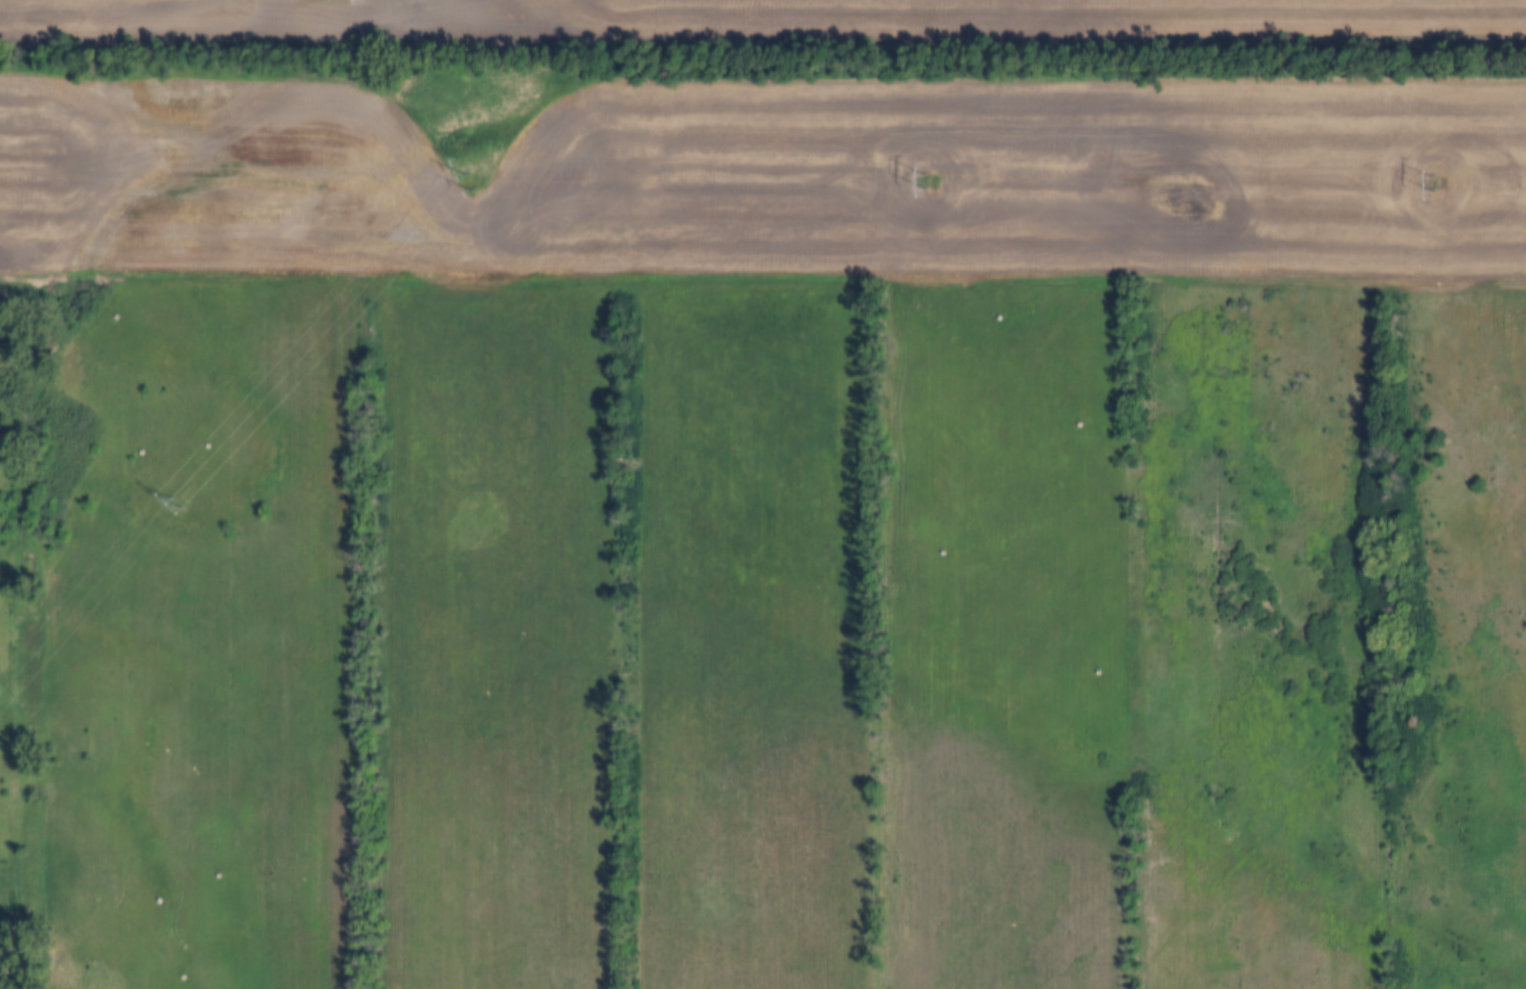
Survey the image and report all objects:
power tower: (467, 179)
power tower: (923, 182)
power tower: (1430, 185)
road: (762, 283)
power tower: (176, 502)

